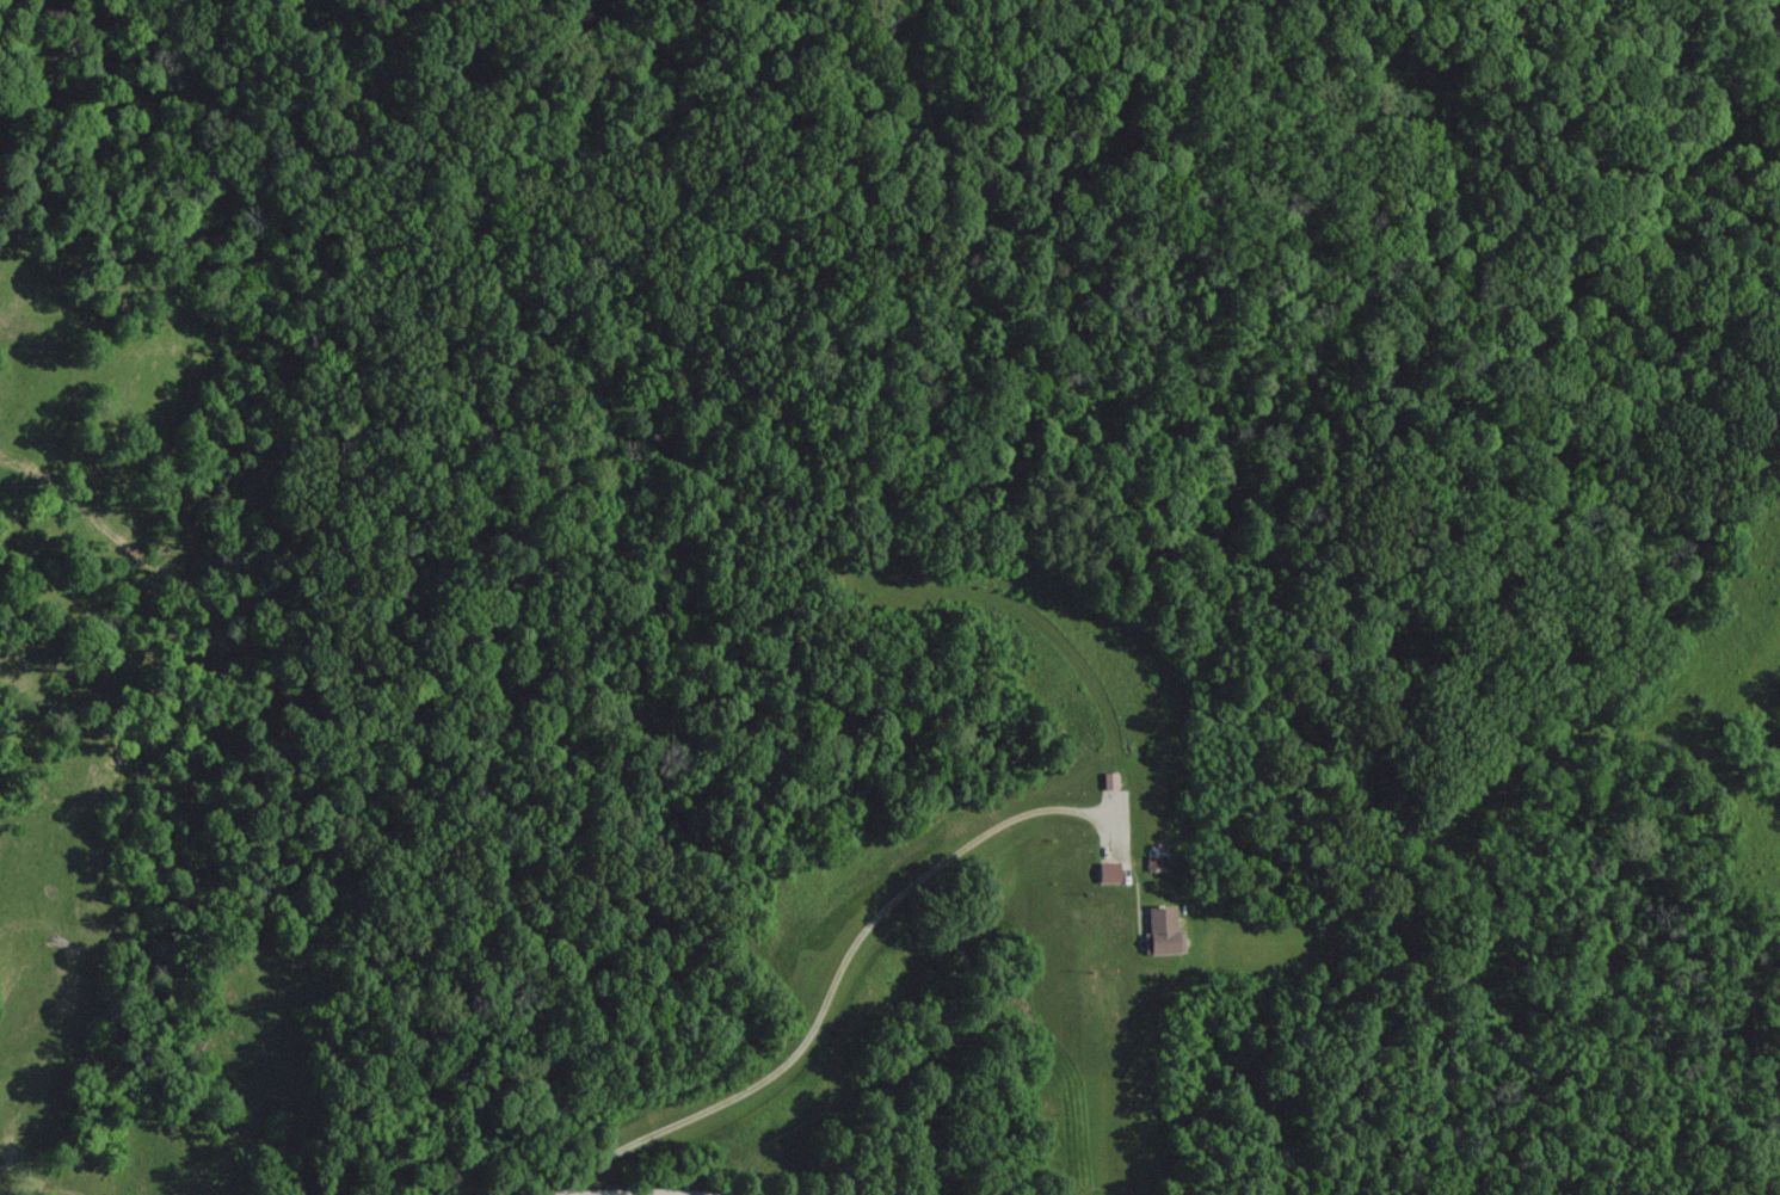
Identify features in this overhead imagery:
road: (1115, 721)
building: (1110, 870)
building: (1164, 929)
road: (829, 985)

